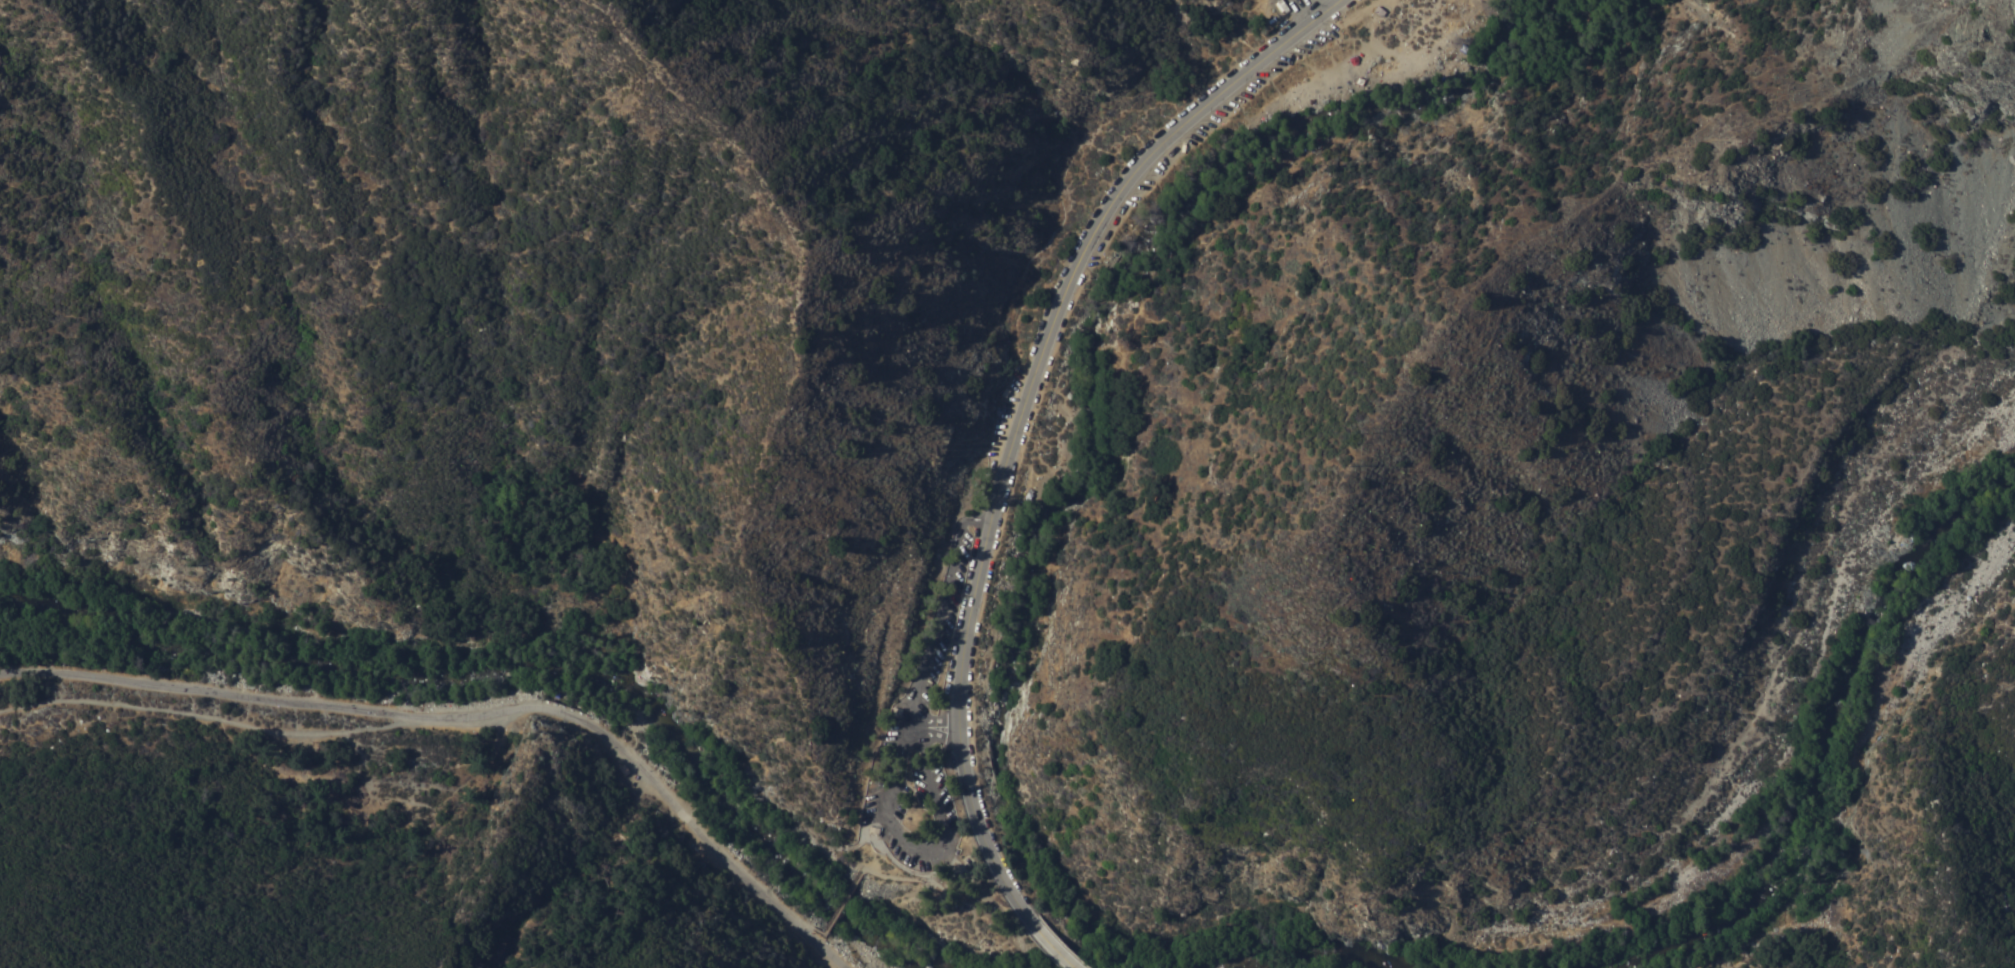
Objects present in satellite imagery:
river: (1099, 367)
road: (1014, 420)
road: (936, 615)
river: (524, 668)
road: (205, 715)
road: (471, 718)
road: (934, 720)
parking lot: (922, 735)
road: (940, 739)
road: (920, 849)
road: (897, 864)
river: (1749, 884)
road: (837, 908)
road: (1058, 952)

